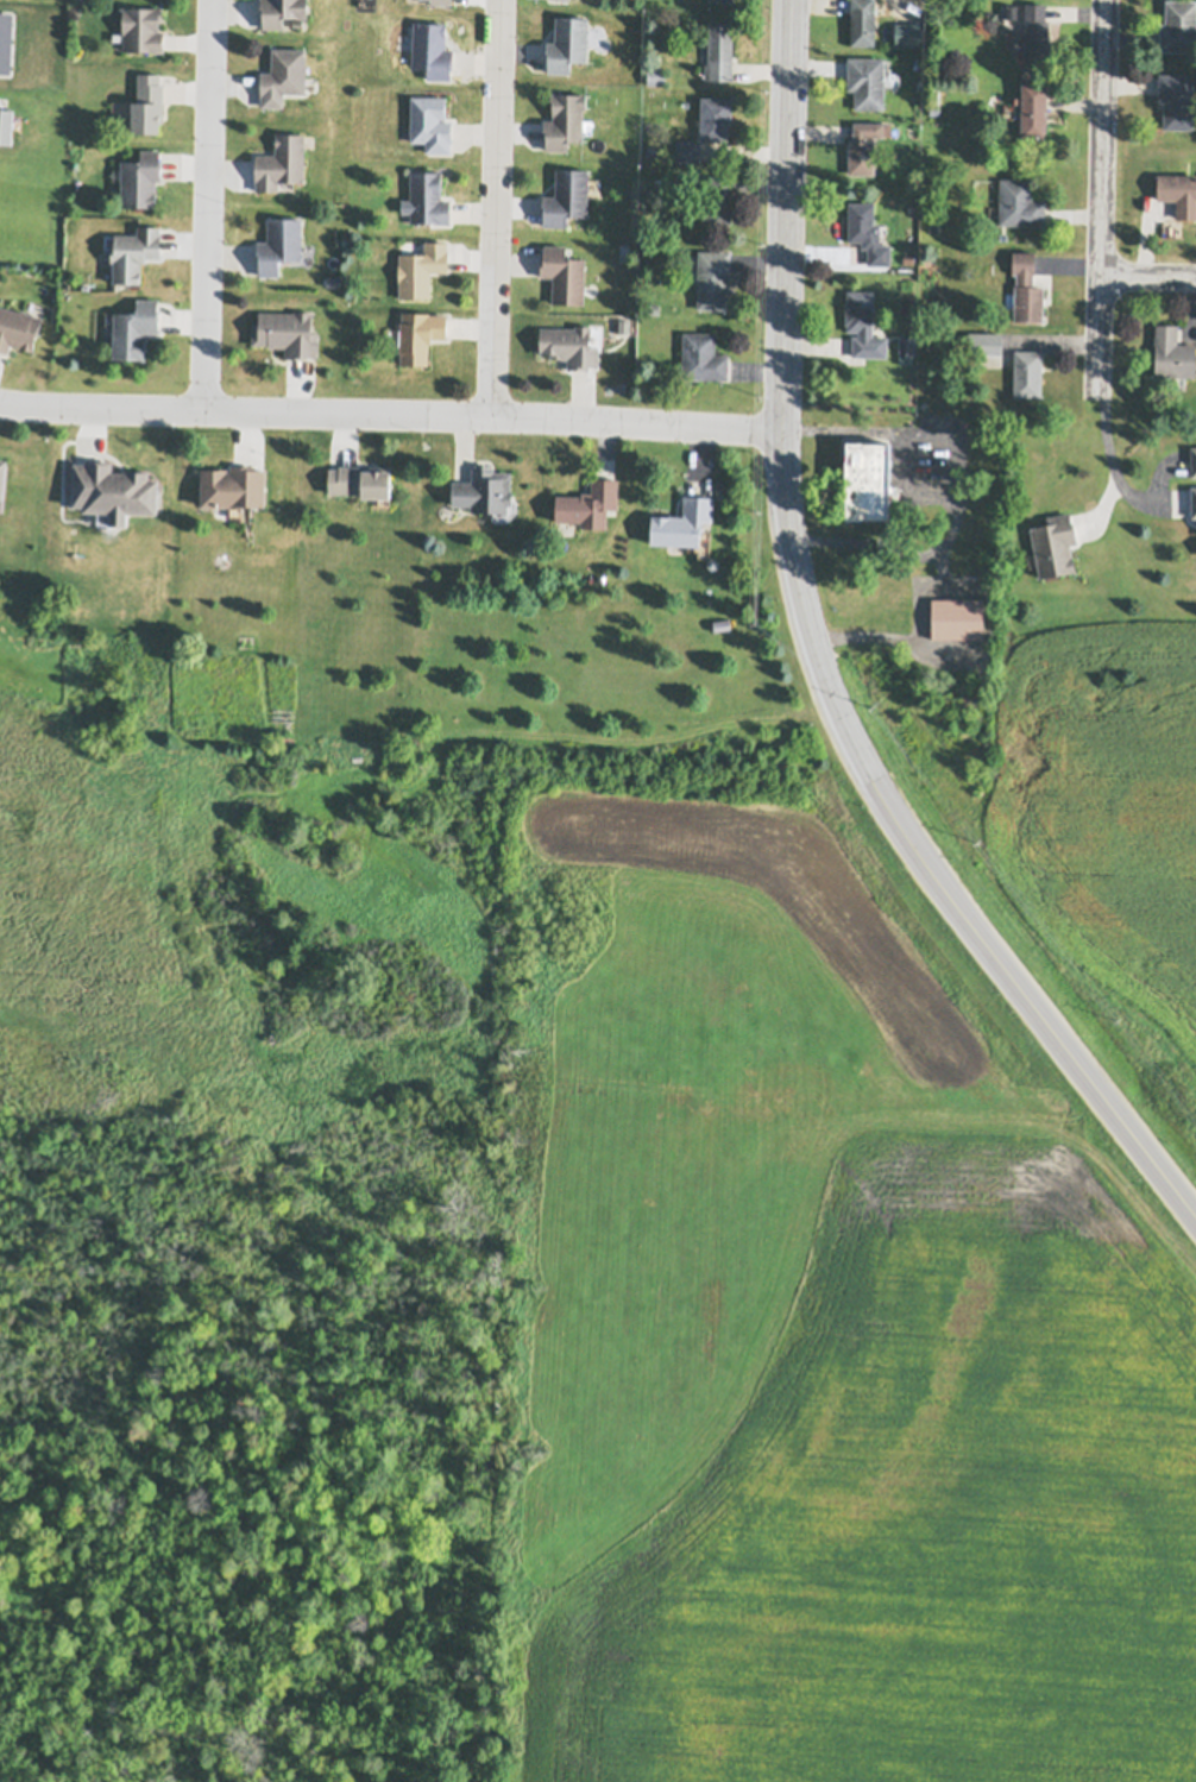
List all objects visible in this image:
building: (720, 0)
building: (441, 1)
building: (1011, 11)
building: (281, 12)
building: (297, 23)
building: (862, 23)
building: (1178, 26)
building: (141, 30)
building: (1036, 32)
building: (567, 44)
building: (432, 50)
building: (719, 51)
building: (283, 76)
building: (656, 76)
building: (865, 82)
building: (1176, 99)
building: (147, 105)
building: (933, 108)
building: (1033, 109)
building: (715, 119)
building: (565, 121)
building: (429, 122)
building: (6, 128)
building: (863, 147)
building: (651, 150)
building: (687, 151)
building: (281, 163)
building: (140, 181)
building: (1178, 193)
building: (566, 199)
road: (1103, 199)
building: (426, 200)
building: (716, 200)
road: (210, 203)
building: (1019, 203)
road: (493, 207)
building: (867, 233)
building: (279, 246)
road: (786, 253)
building: (133, 254)
building: (907, 258)
building: (421, 270)
road: (1148, 273)
building: (564, 276)
building: (712, 279)
building: (1026, 290)
building: (654, 309)
building: (863, 326)
building: (18, 328)
building: (134, 330)
building: (287, 334)
building: (418, 336)
building: (984, 344)
building: (569, 347)
building: (906, 348)
building: (1172, 353)
building: (703, 358)
building: (1027, 373)
road: (389, 411)
road: (1109, 462)
building: (1194, 462)
road: (948, 471)
building: (2, 478)
building: (361, 483)
building: (867, 485)
building: (233, 489)
building: (113, 492)
building: (484, 492)
building: (1194, 504)
building: (588, 506)
building: (682, 525)
building: (1053, 547)
building: (713, 566)
road: (806, 612)
building: (957, 619)
road: (912, 630)
building: (178, 653)
road: (1007, 972)

